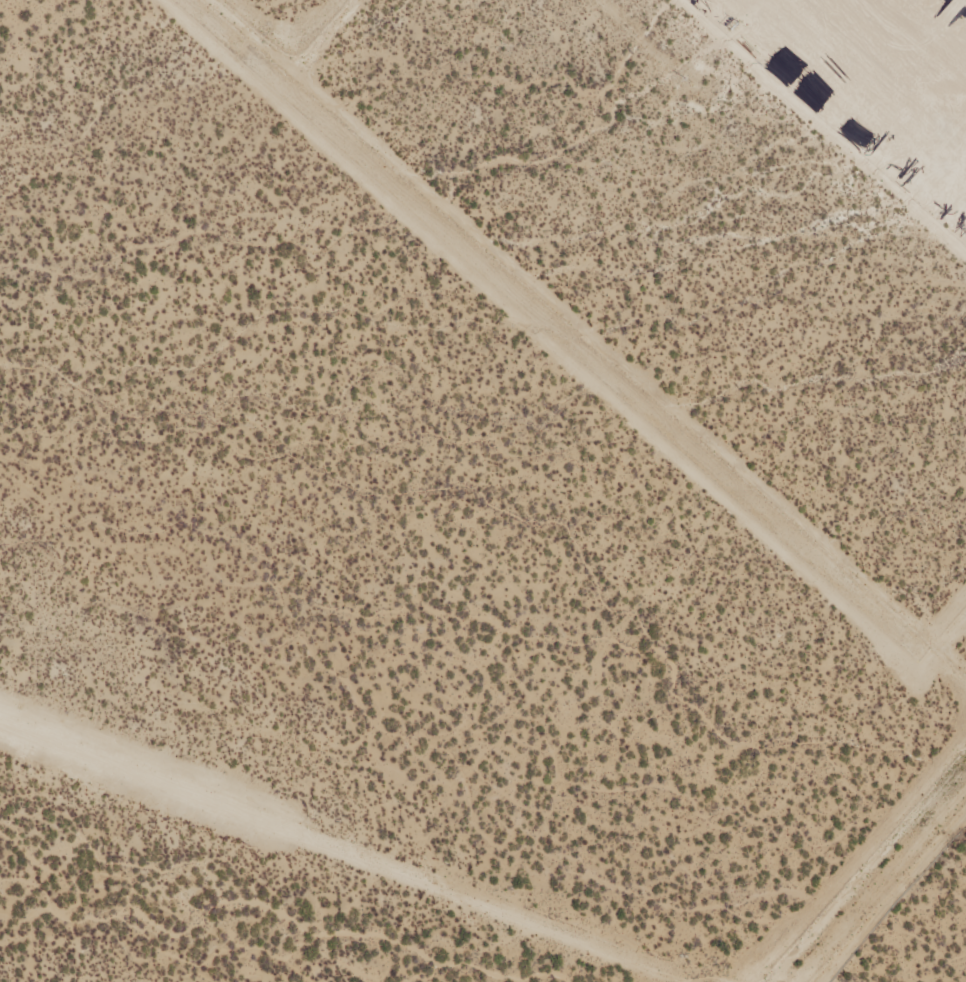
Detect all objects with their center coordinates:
road: (919, 38)

